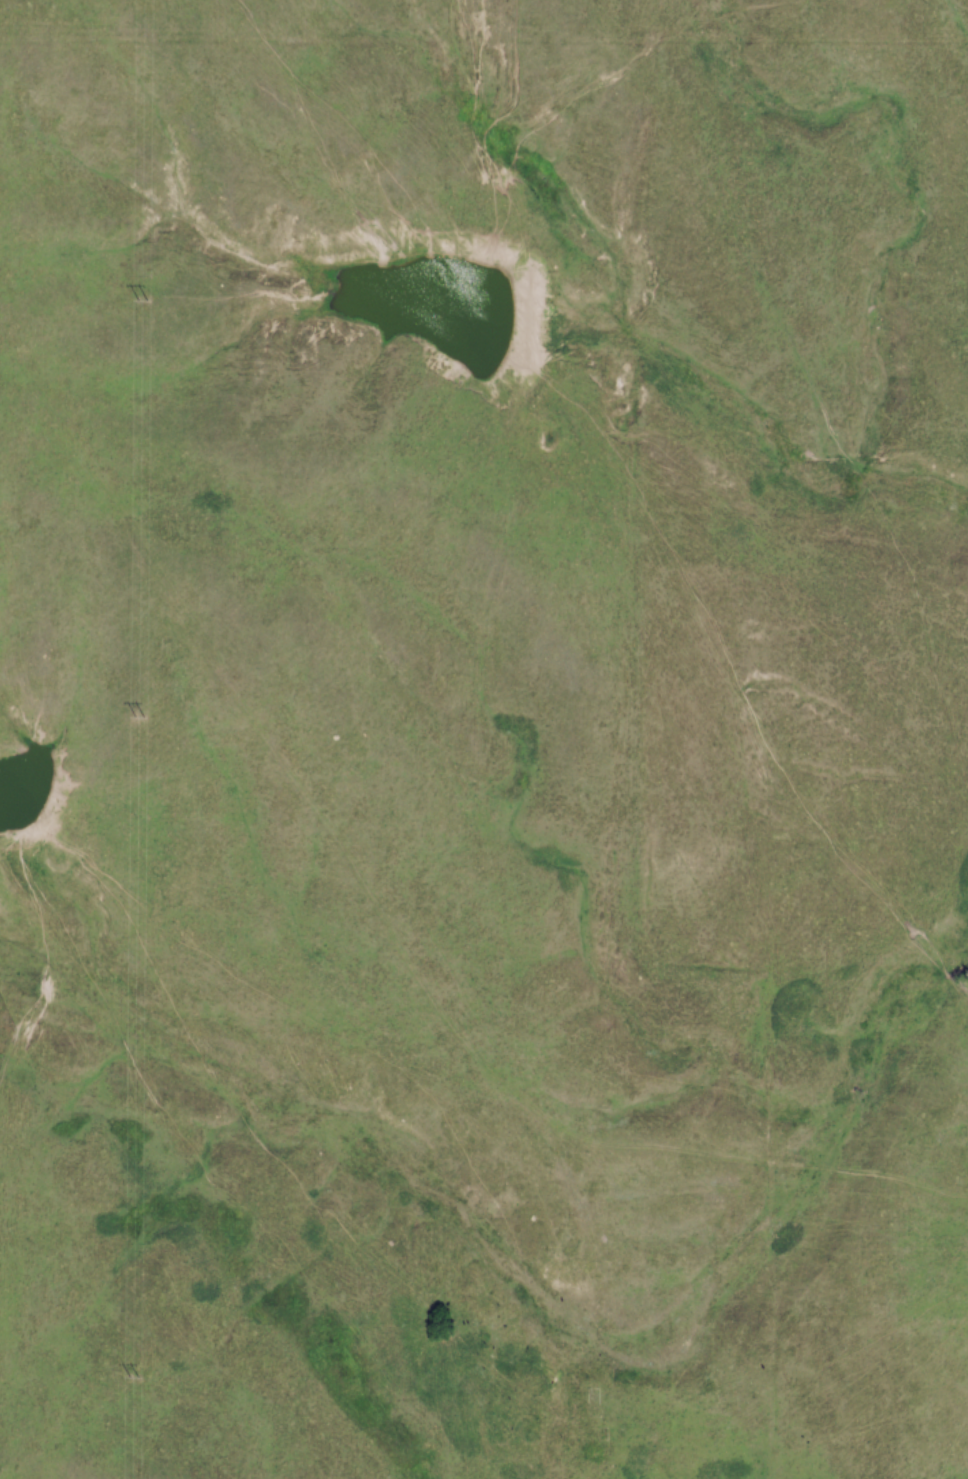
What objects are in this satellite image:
power tower: (144, 302)
power tower: (141, 718)
power tower: (136, 1379)

